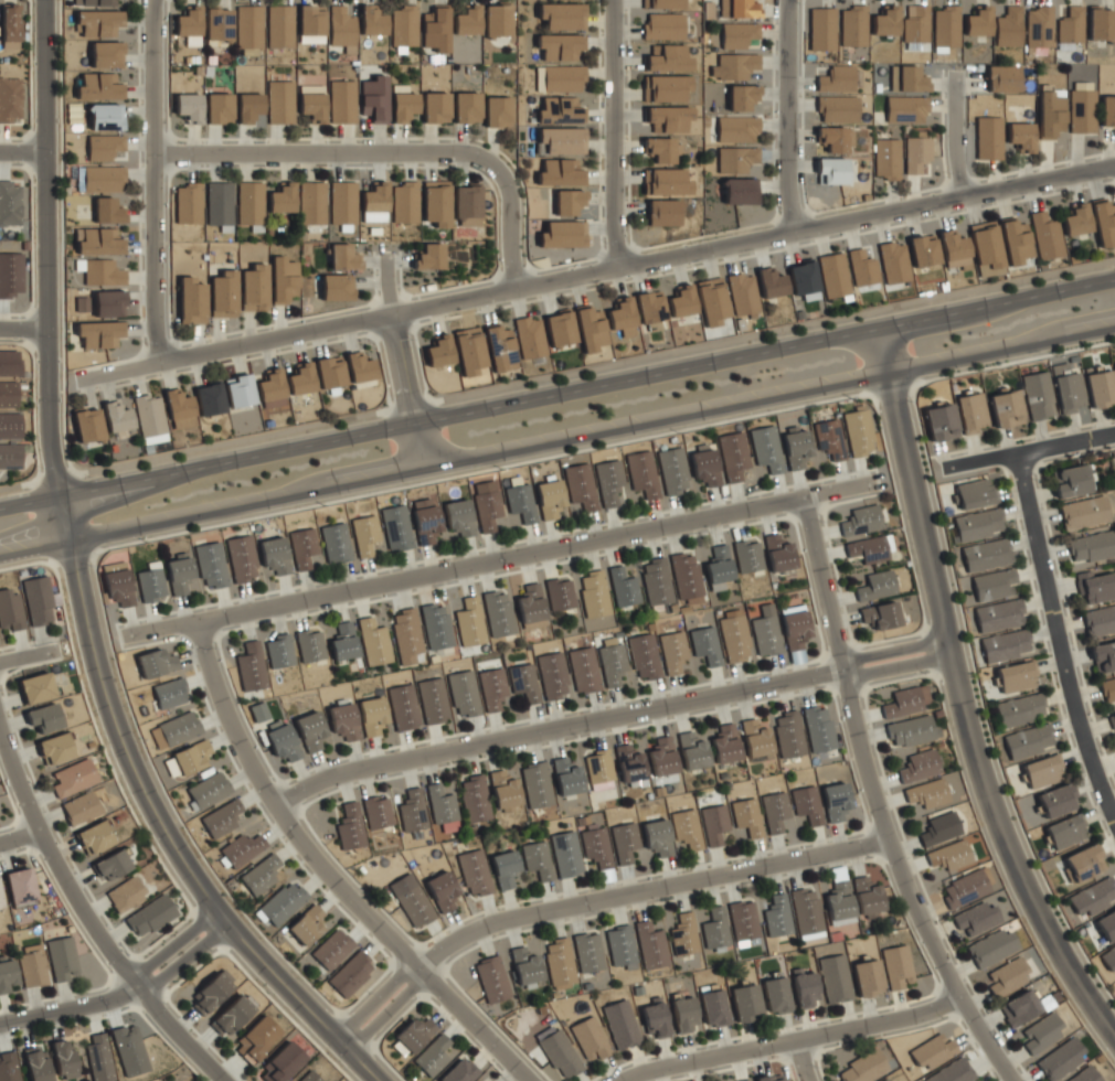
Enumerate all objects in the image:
building: (94, 2)
building: (663, 3)
building: (739, 8)
building: (561, 15)
building: (310, 20)
building: (372, 20)
building: (496, 20)
building: (466, 21)
building: (884, 21)
building: (977, 21)
building: (98, 22)
building: (1100, 23)
building: (189, 25)
building: (217, 25)
building: (852, 25)
building: (915, 25)
building: (1070, 25)
building: (9, 26)
building: (279, 26)
building: (662, 26)
building: (945, 26)
building: (1008, 26)
building: (1038, 26)
building: (341, 28)
building: (403, 28)
building: (435, 28)
building: (821, 29)
building: (248, 30)
building: (737, 34)
building: (560, 46)
building: (106, 54)
building: (668, 58)
building: (735, 65)
building: (560, 78)
building: (836, 78)
building: (1000, 78)
building: (909, 79)
building: (98, 86)
building: (666, 87)
building: (741, 97)
building: (10, 98)
building: (373, 98)
building: (279, 101)
building: (311, 101)
building: (342, 101)
building: (402, 105)
building: (188, 107)
building: (248, 107)
building: (435, 107)
building: (466, 107)
building: (217, 108)
building: (837, 108)
building: (905, 109)
building: (560, 110)
building: (1082, 110)
building: (1107, 110)
building: (497, 111)
building: (1050, 113)
building: (105, 116)
road: (786, 116)
building: (667, 118)
building: (736, 128)
road: (610, 133)
road: (953, 135)
building: (1020, 136)
building: (833, 138)
building: (987, 138)
building: (562, 140)
building: (104, 146)
building: (661, 149)
road: (20, 150)
road: (386, 153)
building: (916, 154)
building: (886, 158)
building: (735, 159)
building: (831, 170)
building: (560, 172)
building: (103, 179)
road: (151, 181)
building: (666, 182)
building: (739, 191)
building: (374, 197)
building: (282, 199)
building: (567, 201)
building: (248, 202)
building: (341, 202)
building: (404, 202)
building: (435, 202)
building: (10, 203)
building: (188, 203)
building: (311, 203)
building: (219, 204)
building: (466, 204)
building: (107, 211)
building: (661, 212)
building: (1075, 220)
building: (1103, 221)
building: (563, 234)
building: (1045, 235)
building: (1015, 239)
building: (98, 240)
road: (42, 248)
building: (986, 248)
building: (954, 249)
building: (923, 250)
building: (429, 256)
building: (343, 257)
building: (893, 261)
building: (862, 268)
building: (100, 271)
road: (596, 271)
building: (10, 274)
building: (833, 275)
building: (803, 277)
building: (283, 279)
building: (771, 282)
building: (336, 287)
building: (254, 288)
building: (742, 293)
building: (223, 295)
building: (191, 300)
building: (711, 300)
building: (681, 301)
building: (109, 303)
building: (650, 310)
building: (622, 317)
road: (21, 328)
building: (559, 328)
building: (590, 328)
building: (99, 333)
building: (529, 338)
building: (499, 347)
building: (468, 350)
building: (438, 351)
road: (401, 362)
building: (9, 363)
building: (1114, 366)
building: (359, 367)
building: (329, 372)
road: (557, 376)
building: (300, 379)
building: (1100, 388)
building: (270, 389)
building: (238, 390)
building: (1069, 392)
road: (557, 393)
building: (8, 394)
building: (1037, 395)
building: (209, 398)
building: (1006, 408)
building: (179, 409)
building: (971, 413)
building: (117, 416)
building: (149, 417)
building: (941, 421)
building: (87, 424)
building: (10, 425)
building: (858, 430)
road: (557, 437)
building: (829, 438)
building: (766, 448)
building: (796, 448)
road: (1028, 451)
building: (10, 454)
building: (733, 454)
building: (704, 465)
building: (672, 470)
building: (643, 473)
building: (1070, 481)
building: (609, 482)
building: (581, 485)
building: (975, 493)
building: (550, 499)
building: (520, 502)
building: (487, 509)
building: (1083, 512)
building: (458, 517)
building: (425, 520)
building: (861, 521)
building: (978, 524)
building: (396, 527)
building: (364, 534)
building: (336, 543)
building: (302, 546)
building: (1091, 546)
building: (870, 548)
building: (777, 553)
building: (274, 554)
building: (986, 554)
building: (747, 555)
building: (242, 558)
road: (496, 561)
building: (211, 565)
building: (718, 567)
building: (179, 575)
building: (686, 577)
building: (151, 582)
building: (656, 582)
building: (994, 584)
building: (118, 586)
building: (875, 586)
building: (1097, 586)
building: (623, 587)
building: (560, 592)
building: (593, 593)
building: (38, 600)
building: (530, 607)
building: (10, 610)
building: (497, 612)
building: (880, 614)
building: (999, 614)
building: (1100, 620)
building: (469, 622)
building: (435, 625)
building: (794, 625)
building: (765, 631)
building: (405, 634)
building: (733, 636)
building: (342, 641)
building: (373, 641)
road: (1056, 641)
building: (309, 644)
building: (705, 644)
building: (1006, 644)
building: (279, 651)
building: (672, 651)
building: (1104, 655)
building: (644, 656)
road: (26, 657)
building: (612, 660)
building: (156, 662)
building: (251, 666)
building: (583, 668)
building: (552, 675)
building: (1016, 676)
building: (523, 681)
building: (35, 687)
building: (492, 687)
building: (1107, 689)
building: (169, 693)
building: (463, 693)
building: (433, 699)
building: (906, 699)
road: (958, 699)
building: (403, 706)
building: (1019, 709)
building: (258, 711)
building: (371, 715)
building: (44, 717)
road: (606, 719)
building: (343, 720)
building: (1113, 720)
building: (178, 728)
building: (818, 729)
building: (311, 730)
building: (911, 730)
building: (788, 734)
building: (755, 738)
building: (282, 740)
building: (1028, 740)
building: (724, 743)
building: (54, 748)
building: (691, 750)
building: (191, 757)
building: (661, 757)
building: (629, 764)
building: (918, 764)
building: (598, 770)
building: (1042, 770)
building: (565, 777)
building: (73, 778)
building: (535, 784)
building: (208, 790)
building: (503, 790)
building: (925, 792)
building: (474, 798)
building: (1056, 800)
building: (835, 801)
road: (872, 802)
building: (806, 804)
building: (442, 807)
building: (81, 809)
building: (412, 810)
building: (774, 811)
building: (376, 812)
building: (746, 816)
building: (222, 817)
road: (158, 820)
building: (713, 823)
building: (350, 826)
building: (938, 827)
building: (686, 828)
building: (1065, 831)
road: (18, 836)
building: (94, 836)
building: (657, 837)
building: (624, 842)
building: (596, 847)
building: (242, 848)
building: (565, 853)
building: (948, 855)
building: (537, 859)
building: (1083, 861)
building: (112, 865)
building: (505, 868)
building: (474, 871)
building: (259, 875)
road: (326, 875)
building: (19, 886)
building: (964, 888)
building: (442, 890)
building: (125, 895)
building: (1093, 896)
building: (867, 897)
building: (411, 900)
road: (593, 901)
building: (283, 902)
building: (0, 903)
building: (839, 903)
building: (806, 912)
building: (777, 914)
building: (150, 916)
building: (975, 917)
building: (743, 920)
road: (89, 923)
building: (306, 923)
building: (1107, 925)
building: (715, 929)
building: (683, 934)
building: (650, 944)
building: (620, 945)
building: (991, 946)
building: (331, 948)
building: (587, 952)
building: (61, 956)
building: (1108, 957)
building: (559, 962)
building: (32, 965)
building: (895, 965)
building: (524, 966)
building: (350, 973)
building: (7, 975)
building: (1007, 976)
building: (833, 977)
building: (867, 977)
building: (491, 978)
building: (804, 988)
building: (213, 991)
building: (775, 994)
road: (121, 995)
building: (744, 1000)
building: (713, 1007)
building: (1020, 1007)
building: (682, 1013)
building: (231, 1014)
building: (655, 1017)
building: (620, 1024)
building: (414, 1032)
building: (1040, 1032)
building: (590, 1037)
building: (256, 1039)
road: (790, 1042)
building: (933, 1050)
building: (557, 1051)
building: (432, 1055)
building: (98, 1057)
building: (63, 1058)
building: (1060, 1058)
road: (799, 1061)
building: (282, 1062)
building: (36, 1064)
building: (861, 1067)
building: (458, 1070)
building: (952, 1071)
building: (1083, 1074)
building: (308, 1077)
building: (768, 1077)
building: (744, 1080)
building: (885, 1080)

